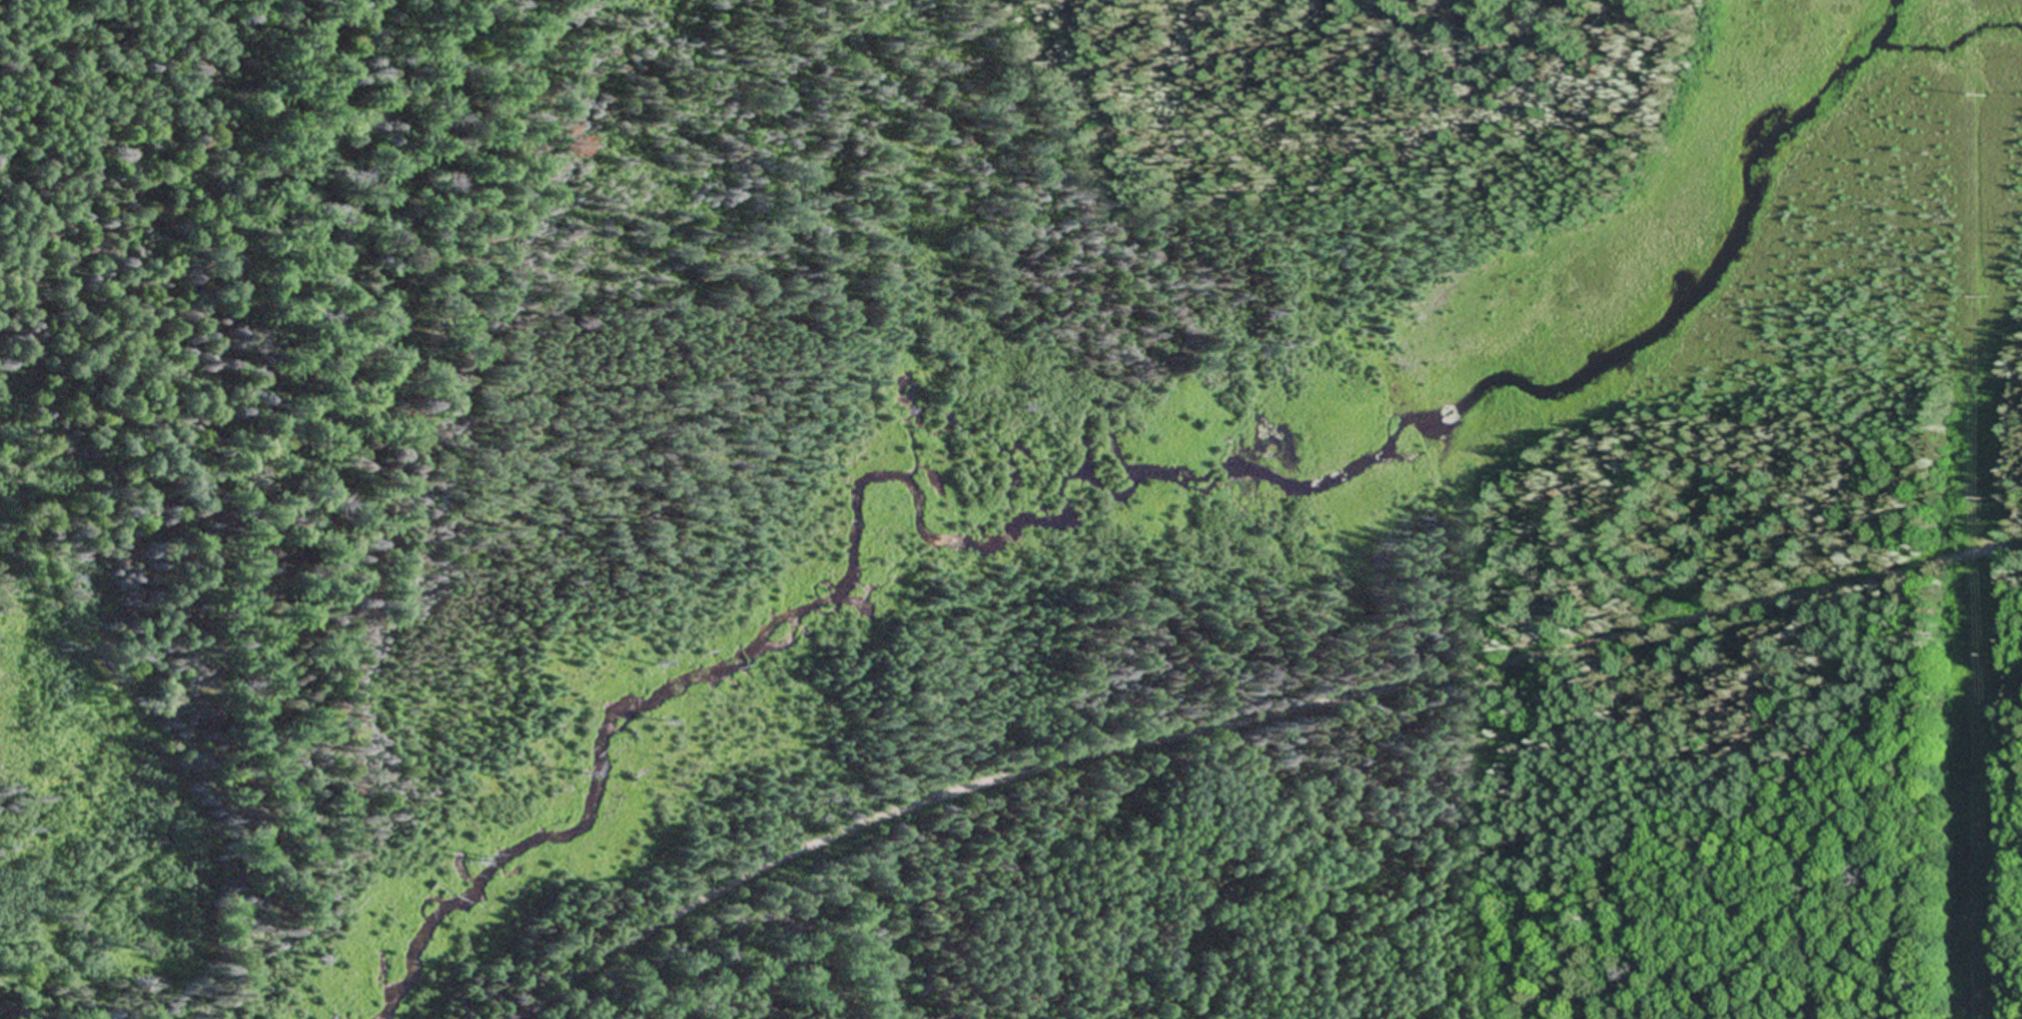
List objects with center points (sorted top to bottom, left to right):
road: (1247, 709)

